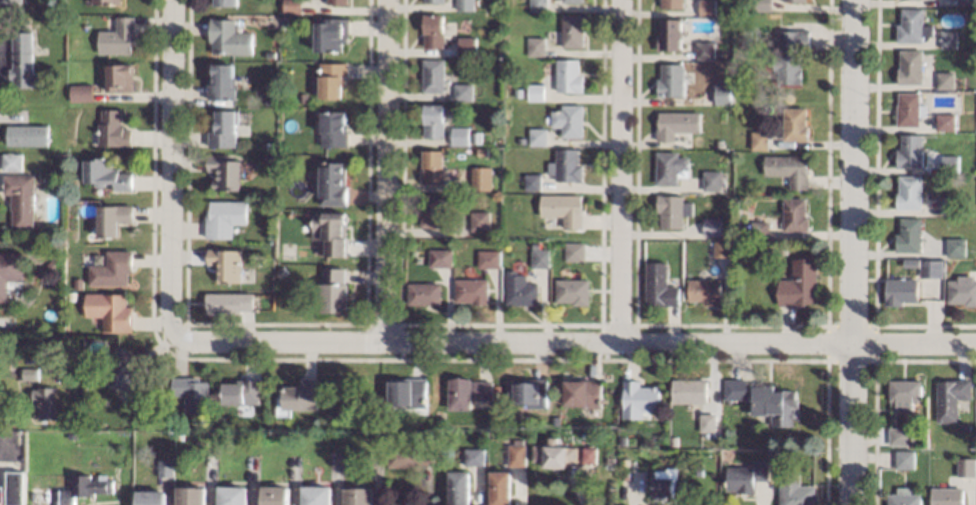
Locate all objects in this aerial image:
building: (11, 0)
building: (432, 0)
building: (793, 0)
building: (903, 0)
building: (571, 1)
building: (106, 2)
building: (225, 2)
building: (338, 2)
building: (965, 2)
building: (672, 4)
building: (292, 5)
building: (464, 5)
building: (536, 5)
building: (762, 5)
building: (707, 7)
building: (283, 19)
building: (24, 23)
building: (912, 25)
building: (433, 30)
building: (571, 30)
building: (331, 32)
building: (669, 34)
building: (117, 36)
building: (229, 37)
building: (947, 38)
building: (466, 45)
building: (534, 46)
building: (704, 49)
building: (789, 54)
building: (22, 60)
building: (910, 66)
building: (432, 74)
building: (566, 75)
building: (120, 77)
building: (331, 79)
building: (945, 79)
building: (669, 80)
building: (221, 82)
building: (462, 91)
building: (533, 91)
building: (80, 92)
building: (721, 94)
building: (302, 96)
building: (269, 101)
building: (909, 108)
building: (567, 119)
building: (432, 120)
building: (945, 121)
building: (675, 123)
building: (795, 123)
building: (112, 128)
building: (224, 128)
building: (332, 129)
building: (27, 134)
building: (458, 135)
building: (536, 136)
building: (476, 137)
building: (519, 139)
building: (759, 140)
building: (718, 142)
building: (269, 145)
building: (909, 150)
building: (270, 156)
building: (12, 160)
building: (949, 163)
building: (564, 165)
building: (432, 166)
building: (669, 167)
building: (788, 169)
building: (225, 171)
road: (620, 172)
building: (106, 173)
road: (377, 173)
road: (171, 174)
building: (481, 178)
building: (711, 180)
building: (531, 181)
building: (331, 182)
building: (909, 192)
building: (448, 196)
building: (21, 198)
building: (950, 205)
building: (562, 208)
building: (672, 209)
building: (431, 210)
building: (794, 215)
building: (224, 217)
building: (112, 218)
building: (480, 220)
building: (711, 226)
building: (305, 227)
building: (759, 230)
building: (330, 232)
building: (908, 234)
building: (535, 244)
building: (955, 246)
building: (720, 248)
building: (781, 249)
building: (574, 250)
road: (852, 252)
building: (439, 257)
building: (488, 258)
building: (540, 258)
building: (915, 262)
building: (52, 263)
building: (228, 263)
building: (111, 268)
building: (931, 268)
building: (282, 271)
building: (11, 272)
building: (658, 284)
building: (799, 284)
building: (334, 289)
building: (519, 289)
building: (471, 290)
building: (571, 290)
building: (703, 290)
building: (900, 290)
building: (962, 290)
building: (424, 293)
building: (70, 295)
building: (229, 302)
building: (109, 309)
road: (572, 345)
building: (124, 371)
building: (29, 372)
road: (5, 376)
building: (497, 387)
building: (689, 390)
building: (242, 391)
building: (468, 391)
building: (528, 391)
building: (408, 392)
building: (581, 392)
building: (905, 392)
building: (193, 393)
building: (299, 396)
building: (951, 398)
building: (638, 399)
building: (764, 399)
building: (43, 401)
building: (439, 415)
building: (555, 419)
building: (155, 420)
building: (163, 421)
building: (707, 421)
building: (965, 425)
building: (71, 434)
building: (180, 435)
building: (898, 436)
building: (622, 439)
building: (673, 440)
building: (912, 440)
building: (516, 452)
building: (554, 453)
building: (588, 454)
building: (408, 455)
building: (473, 455)
building: (610, 459)
building: (905, 459)
building: (967, 466)
building: (166, 467)
building: (698, 471)
building: (747, 476)
building: (664, 483)
building: (15, 487)
building: (84, 488)
building: (458, 488)
building: (500, 488)
building: (794, 489)
building: (2, 494)
building: (39, 494)
building: (191, 494)
building: (232, 495)
building: (274, 495)
building: (316, 495)
building: (358, 496)
building: (904, 496)
building: (947, 496)
building: (149, 497)

